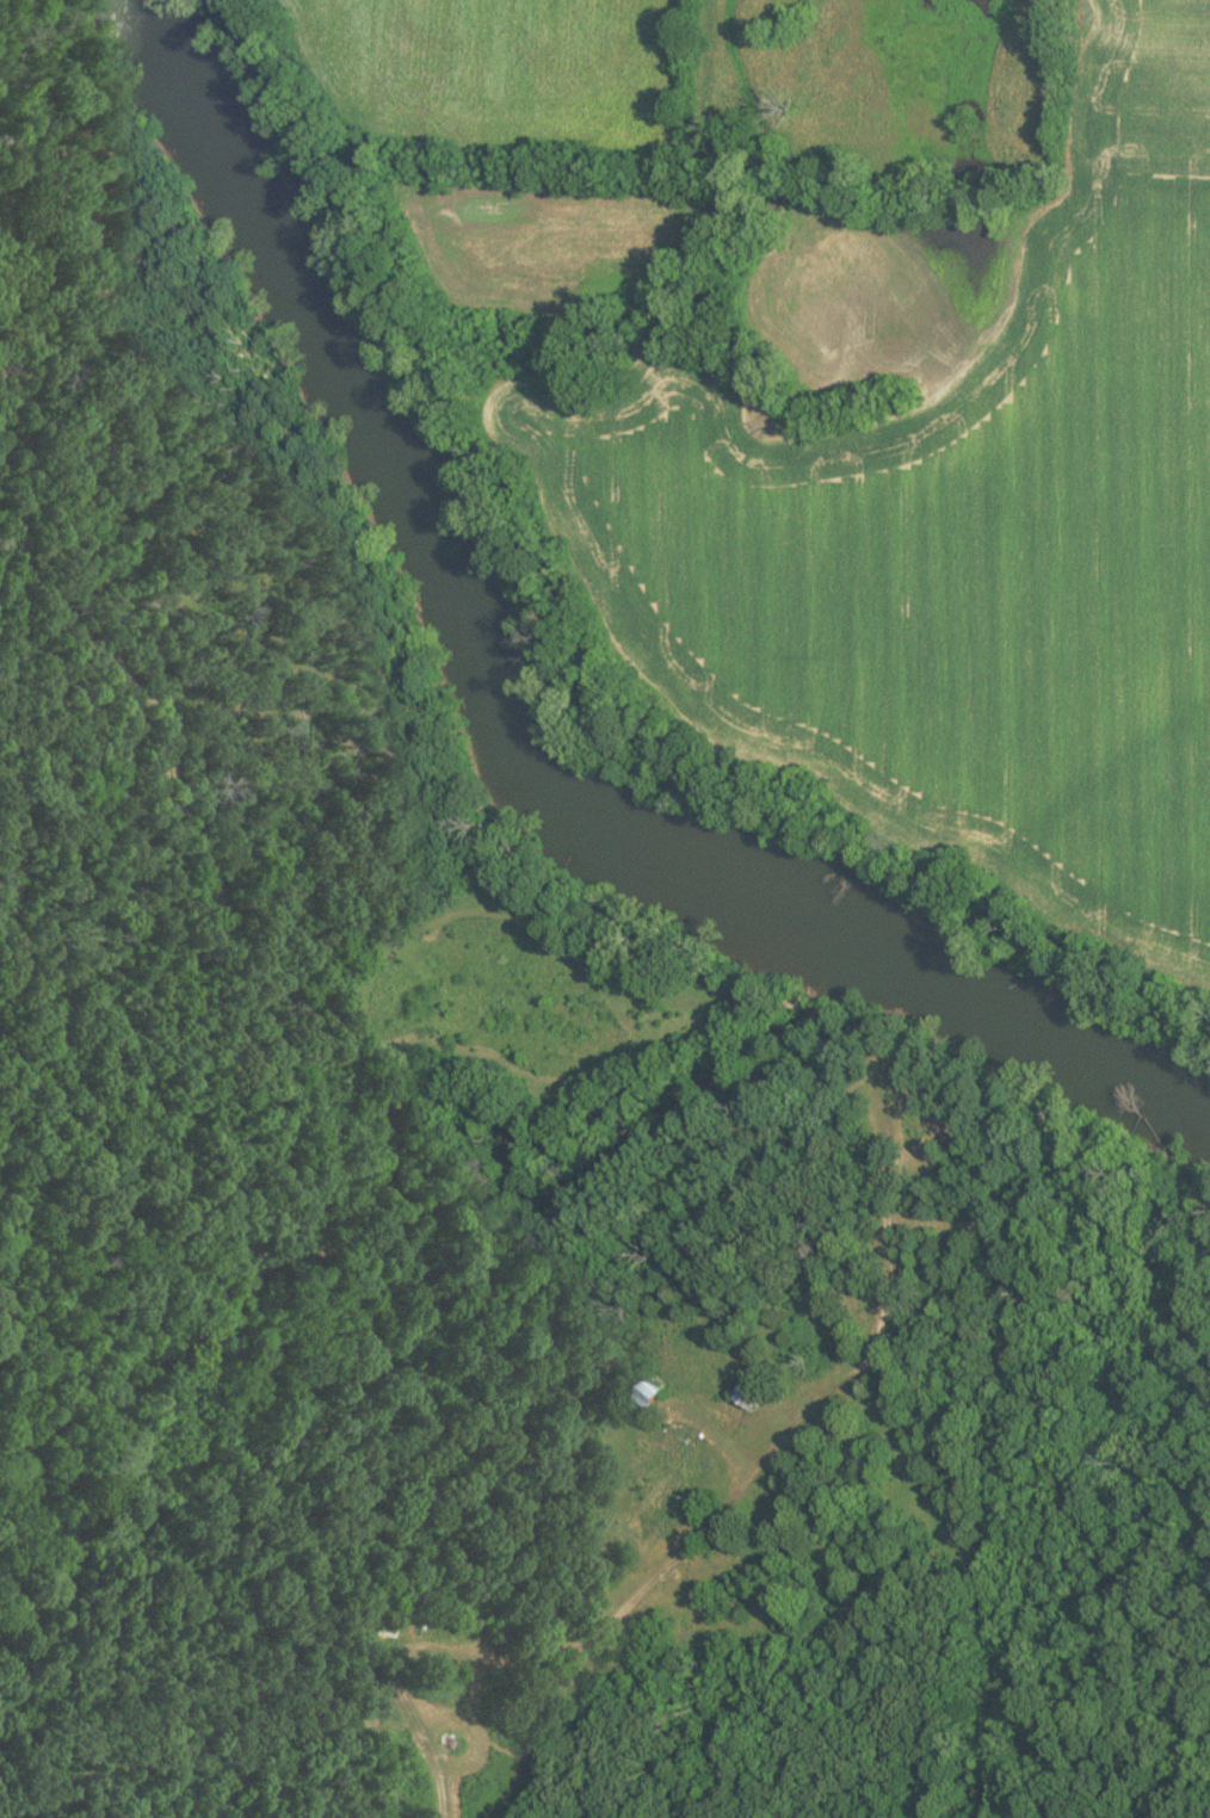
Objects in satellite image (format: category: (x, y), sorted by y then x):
river: (507, 715)
building: (646, 1392)
building: (743, 1398)

